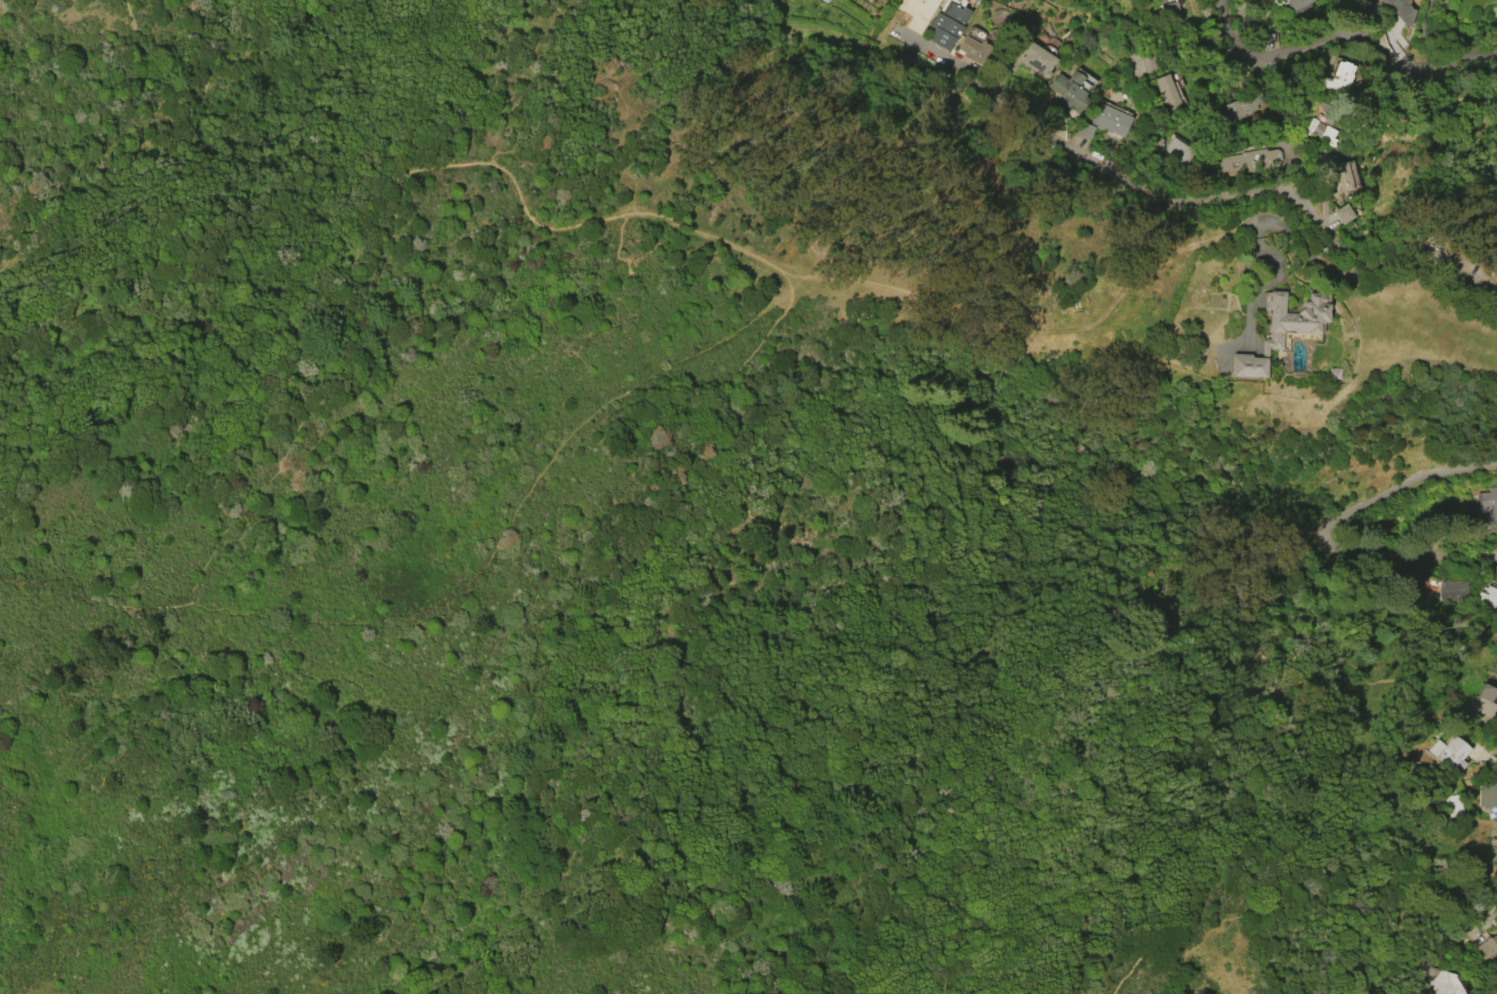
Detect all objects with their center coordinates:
building: (1348, 0)
building: (1298, 6)
building: (1401, 9)
building: (916, 12)
building: (1172, 16)
building: (947, 25)
road: (829, 33)
road: (1351, 34)
building: (975, 50)
building: (1028, 57)
building: (1148, 63)
building: (1340, 77)
road: (471, 81)
road: (187, 82)
building: (1068, 91)
building: (1169, 94)
building: (1245, 105)
building: (1109, 120)
building: (1083, 130)
building: (1320, 131)
road: (119, 149)
building: (1182, 152)
building: (1242, 160)
building: (1343, 177)
road: (1190, 200)
building: (1342, 214)
road: (264, 220)
road: (1338, 274)
road: (876, 286)
building: (1281, 329)
road: (177, 359)
building: (1333, 373)
road: (313, 411)
building: (1487, 505)
road: (1032, 521)
road: (1327, 528)
road: (469, 585)
building: (1453, 590)
building: (1488, 598)
building: (1487, 693)
road: (819, 749)
road: (1326, 750)
building: (1451, 753)
building: (1488, 793)
building: (1450, 800)
building: (1487, 947)
road: (1458, 957)
building: (1447, 984)

